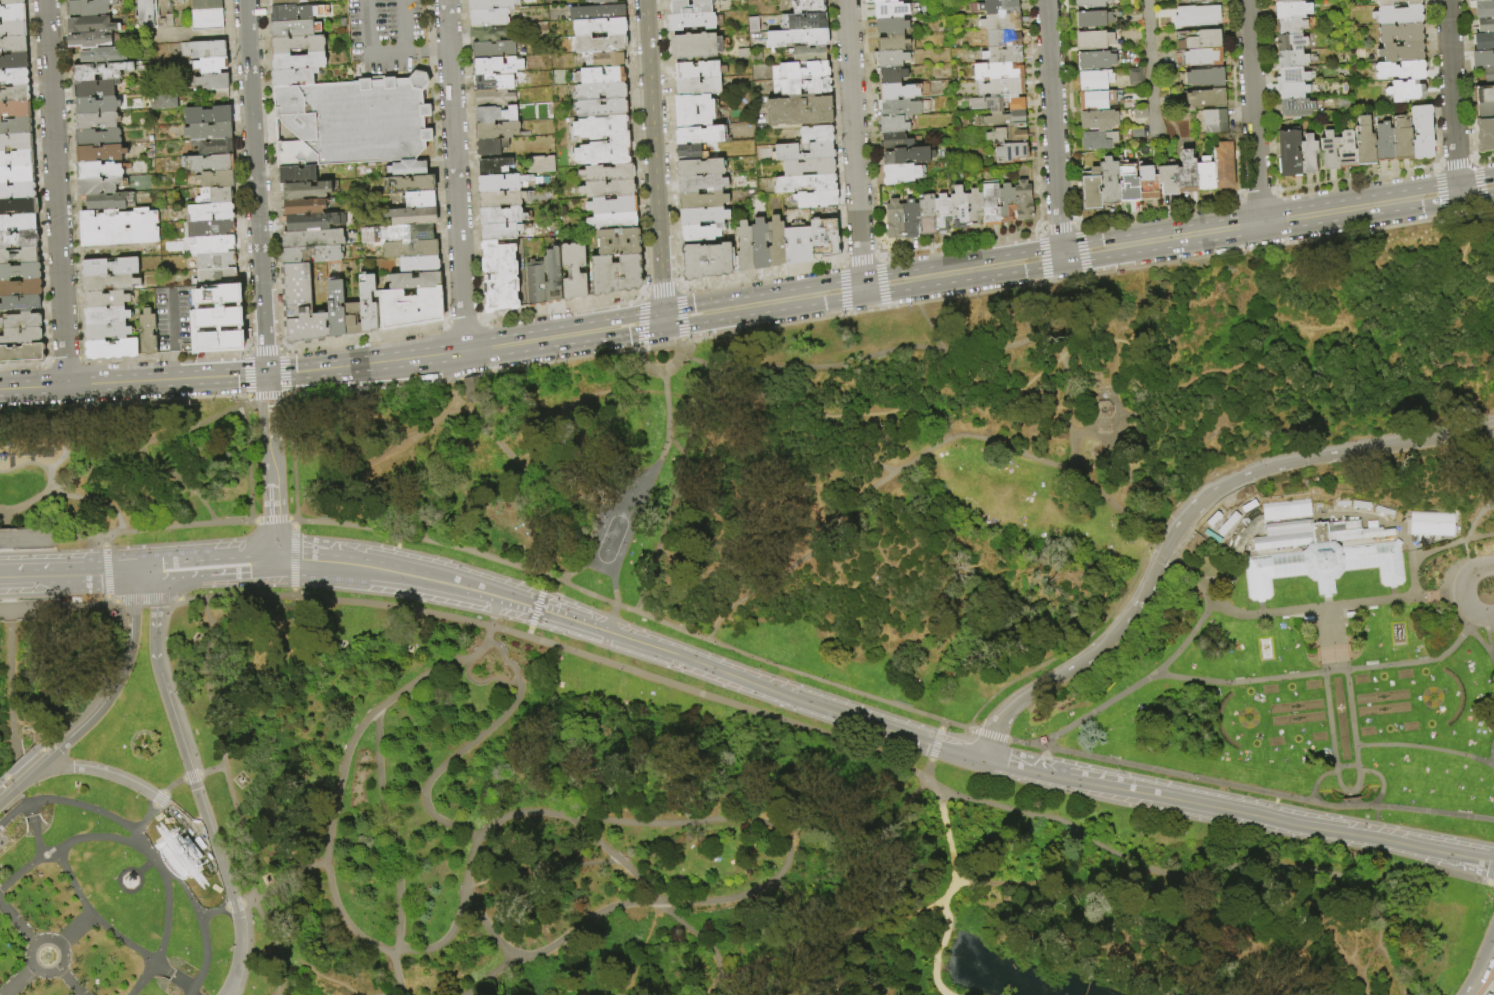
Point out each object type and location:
building: (1478, 0)
building: (180, 1)
building: (602, 1)
building: (885, 1)
building: (1202, 1)
building: (1288, 1)
building: (13, 2)
building: (291, 2)
building: (1397, 2)
building: (1092, 3)
building: (207, 4)
building: (492, 5)
building: (809, 6)
building: (90, 7)
building: (691, 7)
building: (1000, 7)
building: (1485, 9)
building: (1293, 10)
building: (892, 11)
building: (14, 13)
building: (284, 14)
building: (598, 14)
building: (1400, 15)
building: (152, 16)
building: (1200, 16)
building: (490, 18)
building: (208, 19)
building: (1095, 20)
building: (693, 21)
building: (808, 21)
building: (1002, 23)
building: (751, 24)
building: (92, 25)
road: (402, 26)
building: (893, 26)
building: (1292, 26)
building: (1486, 26)
building: (14, 29)
building: (296, 29)
building: (601, 30)
building: (1401, 33)
building: (488, 34)
parking lot: (386, 37)
building: (798, 38)
building: (1001, 39)
building: (90, 40)
building: (1098, 40)
building: (1206, 40)
building: (1484, 41)
building: (1292, 42)
building: (298, 44)
road: (366, 44)
building: (893, 44)
building: (15, 45)
building: (602, 45)
building: (697, 46)
building: (205, 50)
building: (494, 50)
road: (425, 51)
building: (1402, 52)
building: (811, 54)
building: (1004, 55)
building: (101, 56)
building: (1205, 57)
building: (892, 59)
building: (1293, 59)
building: (299, 60)
building: (606, 60)
building: (1097, 60)
building: (1483, 60)
building: (15, 62)
road: (1149, 64)
building: (212, 65)
building: (498, 66)
building: (802, 71)
building: (1401, 71)
building: (99, 72)
building: (999, 72)
building: (892, 75)
building: (1490, 75)
building: (603, 76)
building: (1133, 76)
building: (1295, 76)
building: (16, 77)
building: (294, 77)
building: (699, 78)
building: (1206, 78)
building: (1096, 80)
building: (488, 83)
building: (216, 84)
building: (803, 86)
building: (1001, 88)
building: (94, 89)
building: (1294, 91)
building: (1407, 91)
building: (898, 92)
building: (16, 94)
road: (1452, 95)
building: (1483, 95)
building: (495, 98)
building: (1208, 99)
building: (162, 100)
building: (603, 100)
building: (1094, 100)
building: (988, 104)
building: (1017, 104)
building: (95, 105)
building: (905, 108)
building: (1297, 108)
building: (17, 109)
building: (695, 111)
building: (801, 111)
road: (1253, 111)
building: (1484, 111)
building: (209, 115)
building: (496, 115)
building: (1004, 119)
building: (1101, 120)
building: (97, 121)
building: (1215, 121)
building: (352, 123)
building: (894, 125)
building: (17, 127)
road: (1053, 127)
building: (210, 131)
building: (498, 131)
building: (1423, 132)
building: (818, 134)
building: (701, 135)
building: (1018, 135)
building: (1485, 135)
building: (998, 136)
building: (98, 138)
building: (1100, 140)
building: (1403, 141)
building: (17, 142)
building: (620, 142)
building: (896, 142)
road: (853, 143)
building: (1366, 143)
building: (1385, 143)
building: (215, 147)
building: (492, 147)
building: (1348, 150)
building: (1331, 151)
building: (690, 152)
building: (823, 152)
building: (1013, 152)
building: (1291, 153)
building: (100, 154)
building: (1309, 155)
building: (909, 156)
building: (18, 159)
road: (654, 159)
building: (212, 163)
building: (540, 164)
building: (1225, 166)
building: (496, 167)
building: (700, 168)
building: (810, 168)
building: (409, 169)
building: (99, 170)
building: (608, 173)
building: (1188, 173)
building: (902, 174)
building: (18, 175)
building: (298, 175)
road: (455, 175)
building: (1206, 176)
building: (218, 180)
building: (1169, 180)
building: (1110, 182)
building: (502, 183)
building: (806, 183)
building: (415, 184)
building: (703, 184)
building: (1149, 184)
building: (1129, 185)
building: (99, 186)
road: (255, 187)
building: (609, 189)
building: (308, 190)
building: (18, 191)
building: (1092, 191)
road: (56, 193)
building: (216, 196)
building: (817, 199)
building: (421, 200)
building: (502, 200)
building: (704, 200)
building: (107, 202)
building: (1024, 202)
building: (1007, 204)
building: (991, 205)
building: (614, 206)
building: (19, 207)
building: (305, 207)
building: (959, 209)
building: (975, 209)
building: (212, 212)
building: (943, 214)
building: (412, 216)
building: (503, 216)
building: (705, 216)
building: (928, 216)
building: (911, 219)
building: (895, 221)
building: (315, 222)
building: (613, 222)
building: (18, 223)
building: (120, 228)
building: (211, 228)
road: (1474, 231)
building: (502, 232)
building: (825, 232)
building: (409, 233)
building: (702, 233)
building: (314, 239)
building: (20, 240)
building: (777, 242)
building: (620, 243)
building: (214, 245)
building: (761, 245)
building: (799, 246)
building: (745, 248)
building: (412, 250)
road: (1078, 252)
building: (313, 255)
building: (20, 256)
building: (217, 261)
building: (708, 262)
building: (420, 265)
building: (112, 267)
road: (1463, 268)
building: (21, 272)
building: (575, 272)
building: (617, 275)
building: (501, 277)
building: (553, 277)
building: (218, 278)
building: (415, 281)
building: (107, 284)
building: (536, 286)
building: (21, 288)
building: (107, 300)
building: (21, 304)
building: (368, 304)
building: (302, 308)
building: (413, 309)
building: (337, 310)
road: (922, 315)
building: (107, 316)
road: (174, 318)
building: (217, 319)
building: (353, 319)
traffic signals: (664, 319)
building: (22, 322)
building: (108, 332)
building: (149, 334)
building: (22, 337)
road: (536, 339)
road: (958, 348)
building: (112, 349)
building: (23, 354)
road: (176, 363)
road: (645, 365)
road: (337, 367)
traffic signals: (266, 374)
road: (133, 382)
road: (450, 384)
building: (467, 387)
road: (1161, 391)
road: (267, 401)
road: (788, 408)
building: (1101, 409)
road: (884, 412)
road: (88, 426)
road: (290, 446)
road: (249, 447)
road: (1333, 453)
road: (271, 455)
road: (124, 458)
road: (911, 461)
road: (35, 464)
road: (526, 464)
road: (685, 467)
road: (181, 484)
road: (458, 486)
road: (82, 499)
road: (638, 501)
building: (1285, 509)
road: (599, 516)
road: (271, 519)
road: (291, 519)
road: (1475, 519)
road: (252, 521)
road: (274, 521)
road: (294, 523)
building: (1430, 523)
track: (614, 525)
road: (124, 530)
road: (1174, 532)
road: (1479, 538)
road: (105, 539)
road: (1161, 546)
road: (396, 553)
road: (1418, 555)
building: (1322, 557)
road: (293, 558)
road: (304, 561)
road: (218, 565)
building: (1210, 565)
road: (1485, 566)
road: (367, 567)
road: (154, 570)
road: (104, 571)
road: (74, 572)
road: (425, 579)
road: (292, 592)
road: (1448, 593)
road: (1463, 594)
road: (180, 598)
road: (146, 599)
road: (108, 600)
road: (1326, 602)
road: (112, 603)
road: (55, 606)
road: (634, 610)
road: (1282, 613)
building: (1348, 614)
road: (1488, 615)
building: (1306, 618)
road: (154, 620)
road: (1340, 625)
road: (1321, 628)
road: (605, 631)
road: (1488, 636)
road: (1484, 645)
road: (1073, 646)
road: (563, 648)
park: (786, 656)
road: (1079, 660)
road: (1328, 671)
road: (1152, 677)
road: (119, 678)
road: (483, 680)
road: (172, 684)
road: (11, 696)
road: (87, 705)
road: (871, 723)
road: (174, 724)
road: (940, 724)
road: (987, 733)
road: (933, 743)
road: (1425, 747)
road: (218, 749)
road: (43, 753)
road: (1493, 759)
road: (928, 769)
road: (211, 770)
road: (1367, 775)
road: (192, 776)
road: (342, 777)
road: (125, 780)
road: (11, 782)
road: (22, 783)
road: (933, 783)
road: (173, 784)
road: (1249, 789)
road: (1351, 797)
road: (160, 800)
road: (901, 807)
road: (1238, 810)
road: (548, 815)
road: (1055, 818)
road: (145, 819)
road: (206, 822)
road: (827, 837)
road: (40, 841)
road: (207, 847)
road: (149, 848)
road: (143, 851)
road: (617, 857)
road: (580, 861)
building: (287, 863)
road: (146, 866)
road: (472, 868)
road: (1292, 874)
road: (1454, 877)
road: (289, 879)
road: (1490, 883)
road: (72, 884)
road: (118, 884)
road: (228, 887)
road: (1041, 896)
park: (105, 897)
road: (235, 905)
road: (1182, 910)
road: (214, 912)
road: (399, 919)
road: (585, 922)
road: (17, 924)
road: (1378, 929)
road: (75, 931)
road: (889, 931)
road: (699, 938)
road: (274, 941)
road: (131, 945)
road: (1187, 945)
road: (643, 947)
road: (1222, 947)
road: (248, 949)
road: (240, 951)
road: (936, 954)
fountain: (45, 956)
road: (59, 963)
road: (1203, 968)
road: (1482, 970)
road: (398, 972)
road: (1392, 974)
road: (490, 975)
road: (17, 981)
road: (68, 982)
road: (714, 991)
road: (393, 992)
road: (402, 992)

